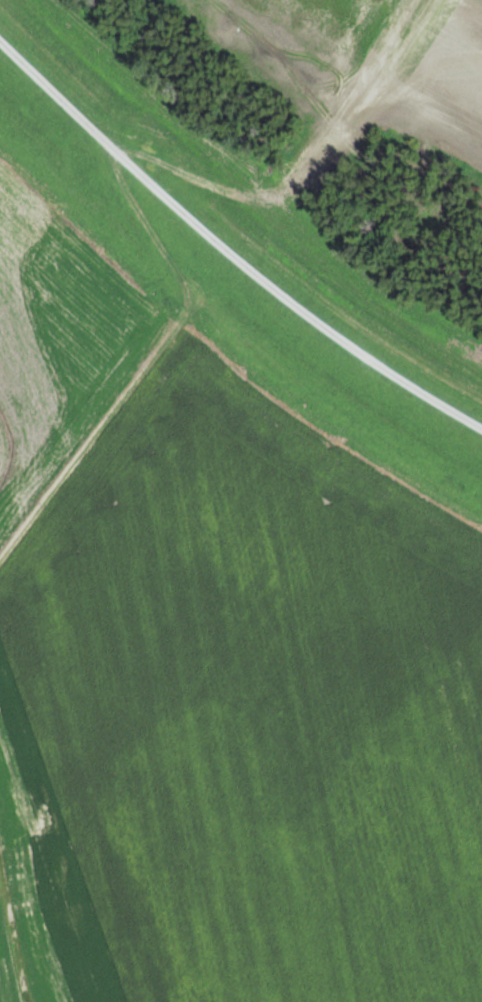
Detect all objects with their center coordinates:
road: (161, 97)
road: (145, 219)
road: (227, 246)

